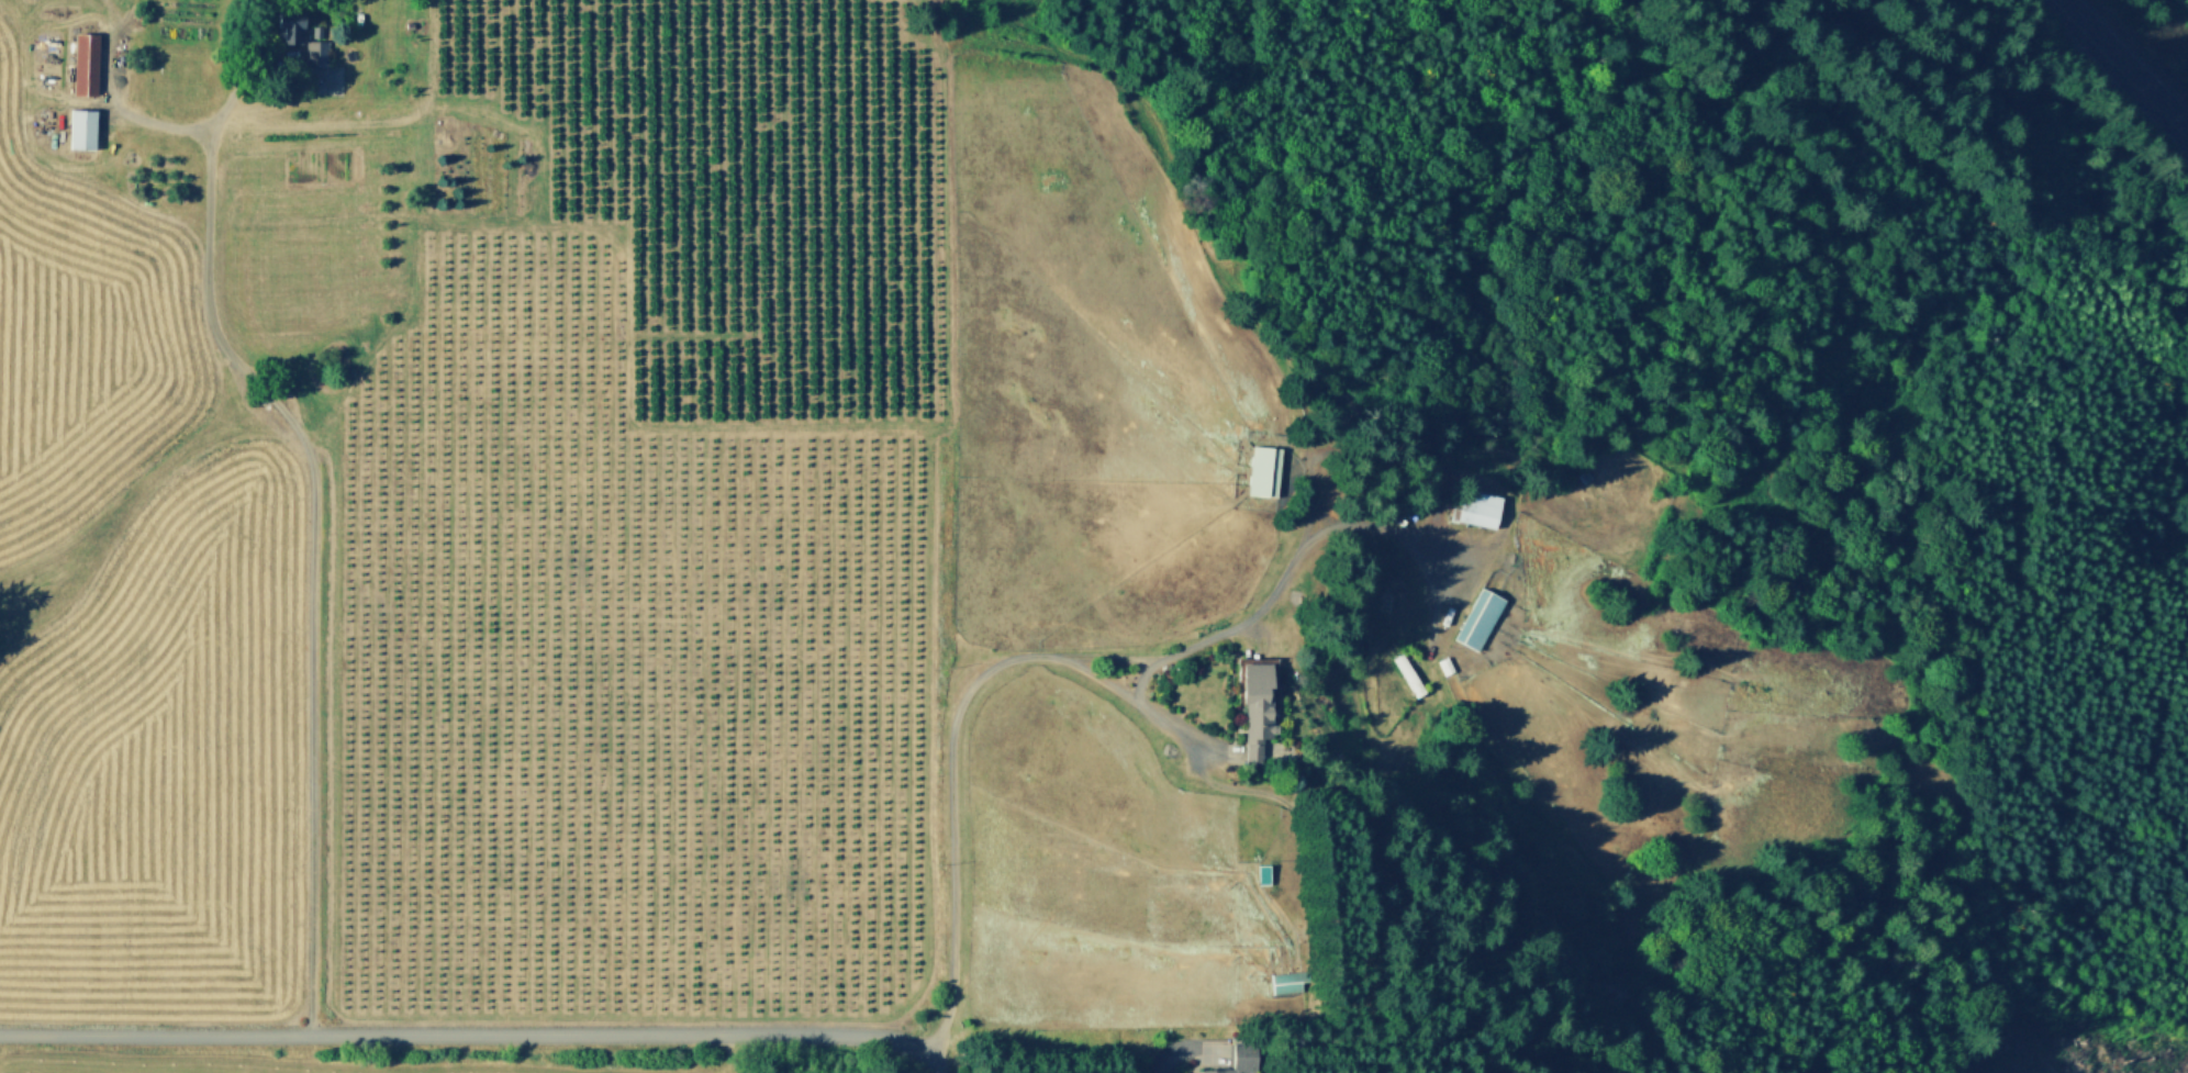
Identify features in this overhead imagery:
road: (110, 13)
building: (286, 24)
building: (406, 24)
building: (315, 31)
building: (314, 53)
building: (81, 64)
road: (2120, 69)
road: (89, 101)
road: (185, 126)
building: (79, 130)
building: (1261, 470)
road: (1311, 473)
building: (1581, 477)
road: (1503, 496)
building: (1474, 510)
crop: (629, 525)
road: (314, 565)
road: (1453, 590)
building: (1384, 602)
building: (1475, 619)
road: (1082, 657)
building: (1442, 666)
building: (1406, 674)
road: (1142, 677)
building: (1366, 689)
road: (1142, 705)
building: (1252, 706)
building: (1260, 873)
building: (1283, 983)
road: (476, 1033)
road: (1183, 1049)
building: (1238, 1058)

